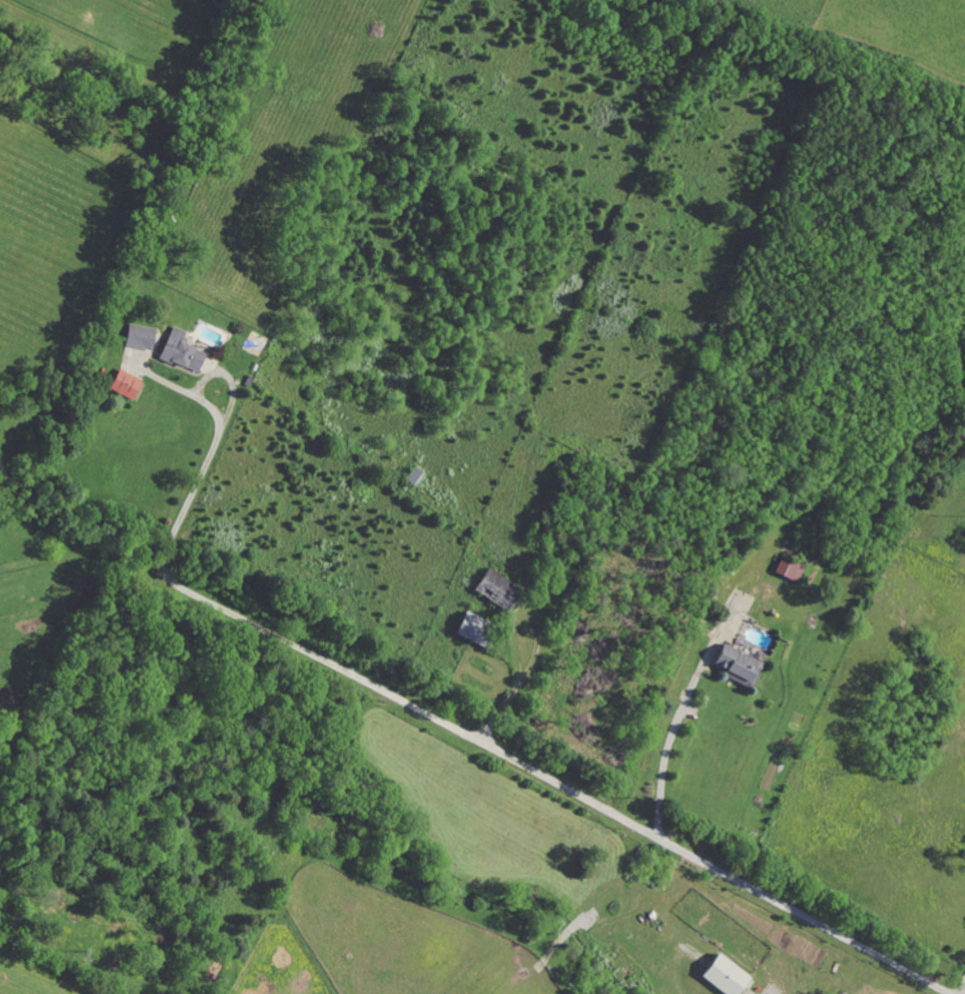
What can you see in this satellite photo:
building: (139, 337)
building: (180, 352)
building: (123, 384)
road: (215, 441)
building: (788, 570)
building: (494, 589)
building: (465, 626)
road: (539, 637)
building: (734, 664)
road: (671, 737)
road: (561, 787)
road: (676, 959)
building: (722, 976)
road: (962, 987)

